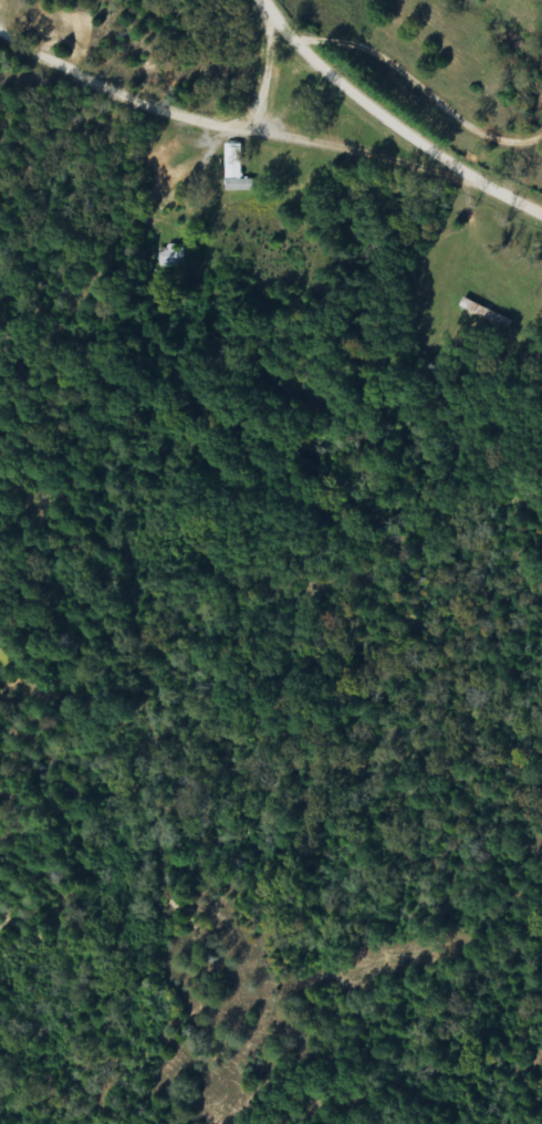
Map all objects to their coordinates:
road: (33, 24)
road: (175, 140)
road: (362, 157)
building: (237, 173)
building: (174, 258)
road: (17, 918)

